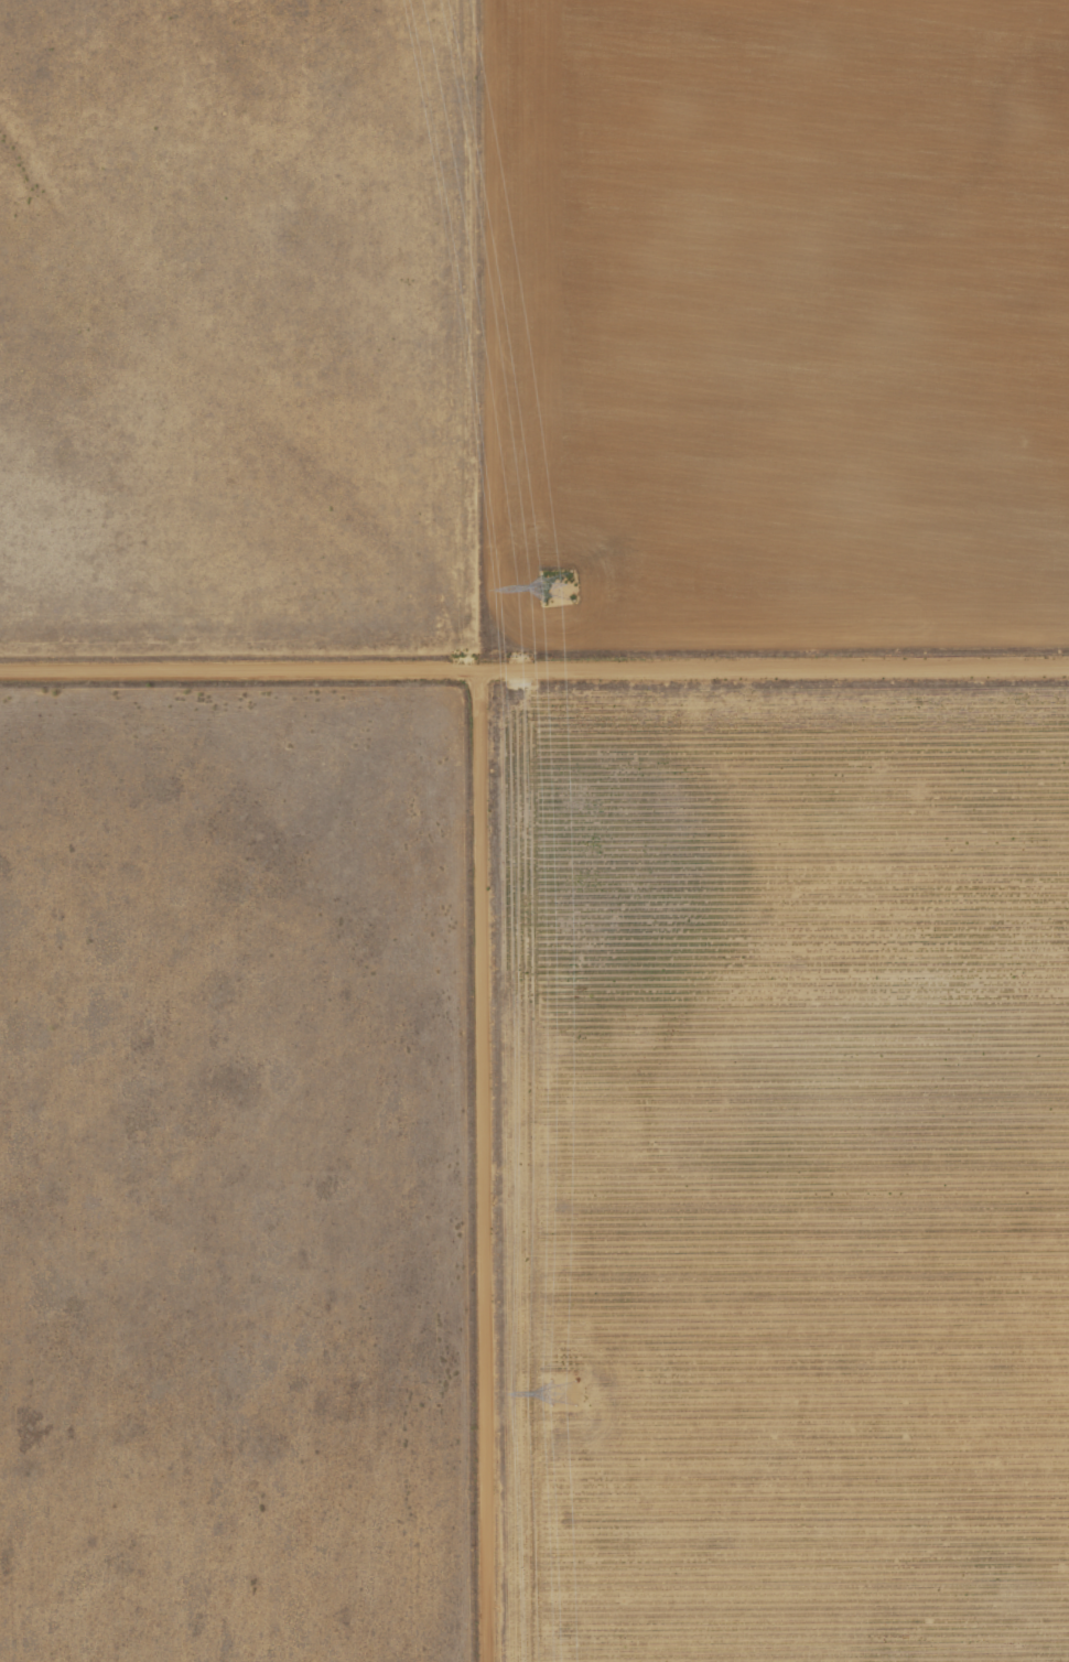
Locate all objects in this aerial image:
power tower: (554, 589)
road: (534, 667)
road: (484, 1164)
power tower: (560, 1393)

